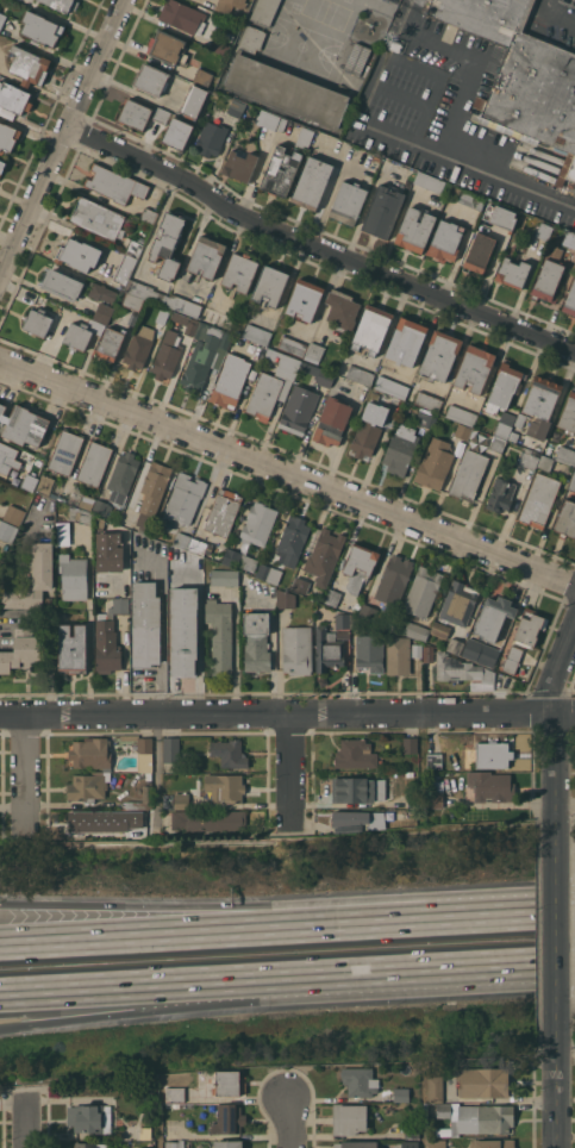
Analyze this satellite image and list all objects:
building: (63, 4)
building: (229, 5)
building: (264, 11)
road: (555, 14)
building: (181, 15)
road: (413, 15)
parking lot: (557, 17)
building: (2, 19)
building: (40, 29)
building: (227, 36)
building: (392, 45)
building: (219, 46)
building: (167, 48)
building: (357, 58)
building: (27, 64)
building: (523, 75)
building: (202, 76)
building: (151, 79)
building: (282, 83)
building: (14, 98)
building: (193, 101)
building: (235, 107)
building: (135, 114)
building: (161, 114)
building: (267, 119)
building: (281, 124)
building: (177, 132)
building: (8, 137)
building: (211, 137)
building: (305, 137)
road: (443, 139)
road: (64, 142)
building: (1, 164)
building: (239, 164)
building: (281, 170)
building: (312, 182)
building: (430, 182)
building: (114, 183)
building: (471, 199)
building: (348, 202)
building: (383, 211)
building: (149, 216)
building: (96, 218)
building: (504, 218)
building: (414, 230)
building: (544, 231)
building: (569, 238)
building: (445, 241)
building: (167, 244)
building: (133, 248)
road: (317, 249)
building: (479, 252)
building: (77, 254)
building: (206, 256)
building: (124, 269)
building: (239, 272)
building: (512, 272)
building: (548, 275)
building: (62, 283)
building: (269, 285)
building: (101, 292)
building: (146, 292)
building: (304, 299)
building: (570, 300)
building: (132, 301)
building: (185, 306)
building: (342, 310)
building: (104, 313)
building: (162, 316)
building: (217, 318)
building: (38, 322)
building: (185, 322)
building: (371, 329)
building: (82, 333)
building: (257, 333)
building: (406, 341)
building: (239, 342)
building: (110, 344)
building: (292, 345)
building: (138, 347)
building: (314, 352)
building: (167, 355)
building: (205, 355)
building: (440, 355)
building: (475, 368)
building: (319, 374)
building: (360, 375)
building: (230, 381)
building: (273, 385)
building: (392, 387)
building: (504, 387)
building: (375, 397)
building: (427, 401)
building: (542, 404)
building: (298, 410)
building: (568, 412)
building: (461, 414)
building: (425, 418)
building: (519, 419)
building: (332, 422)
building: (23, 425)
building: (505, 425)
building: (371, 428)
building: (462, 431)
building: (513, 436)
building: (494, 442)
building: (400, 449)
building: (43, 451)
building: (65, 451)
building: (565, 455)
building: (529, 457)
building: (8, 458)
building: (545, 462)
building: (94, 463)
building: (435, 463)
road: (287, 474)
building: (469, 474)
building: (123, 476)
building: (29, 482)
building: (573, 483)
building: (45, 485)
building: (154, 487)
building: (500, 494)
building: (185, 498)
building: (539, 500)
building: (86, 501)
building: (102, 507)
building: (223, 512)
building: (13, 514)
building: (80, 514)
building: (567, 519)
building: (258, 524)
building: (142, 529)
building: (7, 530)
building: (62, 532)
building: (181, 539)
building: (292, 539)
building: (200, 547)
building: (324, 556)
building: (111, 559)
building: (239, 560)
building: (360, 566)
building: (269, 573)
building: (73, 576)
building: (224, 578)
building: (33, 579)
building: (393, 579)
building: (298, 586)
building: (421, 592)
building: (332, 597)
building: (286, 599)
building: (458, 603)
building: (368, 611)
building: (493, 617)
building: (343, 620)
building: (352, 620)
building: (145, 624)
building: (529, 626)
road: (162, 629)
building: (440, 629)
building: (183, 630)
building: (415, 631)
building: (220, 635)
building: (108, 637)
building: (256, 641)
building: (454, 645)
building: (73, 649)
building: (296, 649)
building: (327, 649)
building: (415, 649)
building: (21, 651)
building: (480, 651)
building: (368, 654)
building: (427, 654)
building: (399, 655)
building: (512, 659)
building: (462, 670)
road: (287, 717)
road: (552, 722)
building: (144, 744)
building: (410, 744)
building: (170, 749)
building: (90, 751)
building: (229, 753)
building: (355, 754)
building: (492, 754)
building: (435, 760)
building: (145, 762)
road: (26, 773)
road: (294, 773)
building: (406, 773)
building: (148, 775)
building: (88, 786)
building: (438, 786)
building: (490, 786)
building: (225, 787)
building: (357, 790)
building: (142, 799)
building: (181, 800)
building: (435, 800)
building: (374, 813)
building: (398, 816)
building: (349, 817)
building: (210, 819)
building: (105, 821)
road: (233, 904)
road: (521, 913)
road: (233, 930)
road: (557, 937)
road: (504, 971)
road: (217, 988)
road: (217, 1002)
building: (482, 1080)
building: (360, 1081)
building: (230, 1083)
building: (436, 1088)
building: (200, 1093)
building: (401, 1093)
building: (175, 1094)
road: (557, 1099)
building: (444, 1110)
building: (146, 1112)
building: (90, 1118)
building: (349, 1118)
building: (486, 1118)
building: (229, 1119)
road: (289, 1121)
road: (27, 1123)
building: (412, 1130)
building: (436, 1143)
building: (492, 1143)
building: (89, 1144)
building: (174, 1144)
building: (229, 1144)
building: (356, 1144)
building: (407, 1144)
building: (146, 1147)

